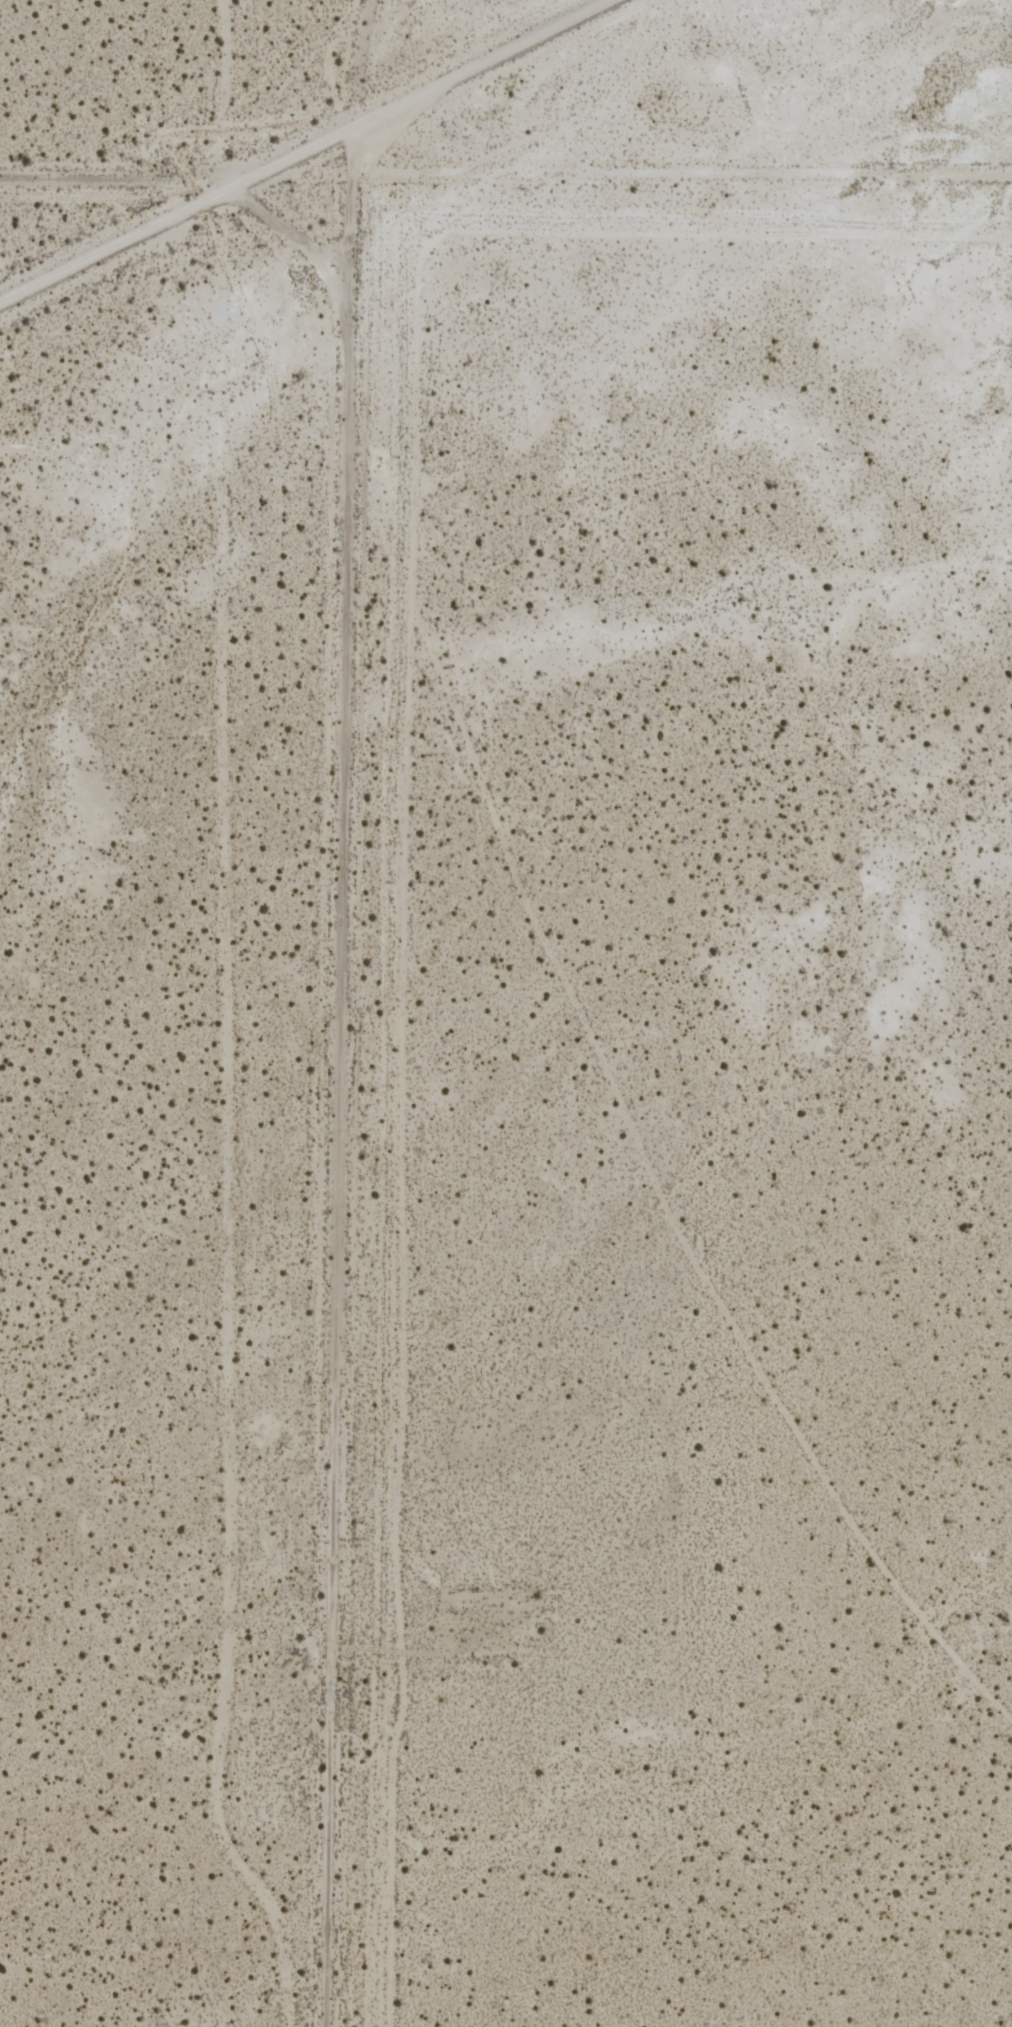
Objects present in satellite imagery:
road: (306, 151)
road: (113, 187)
road: (337, 1080)
airport: (716, 1143)

